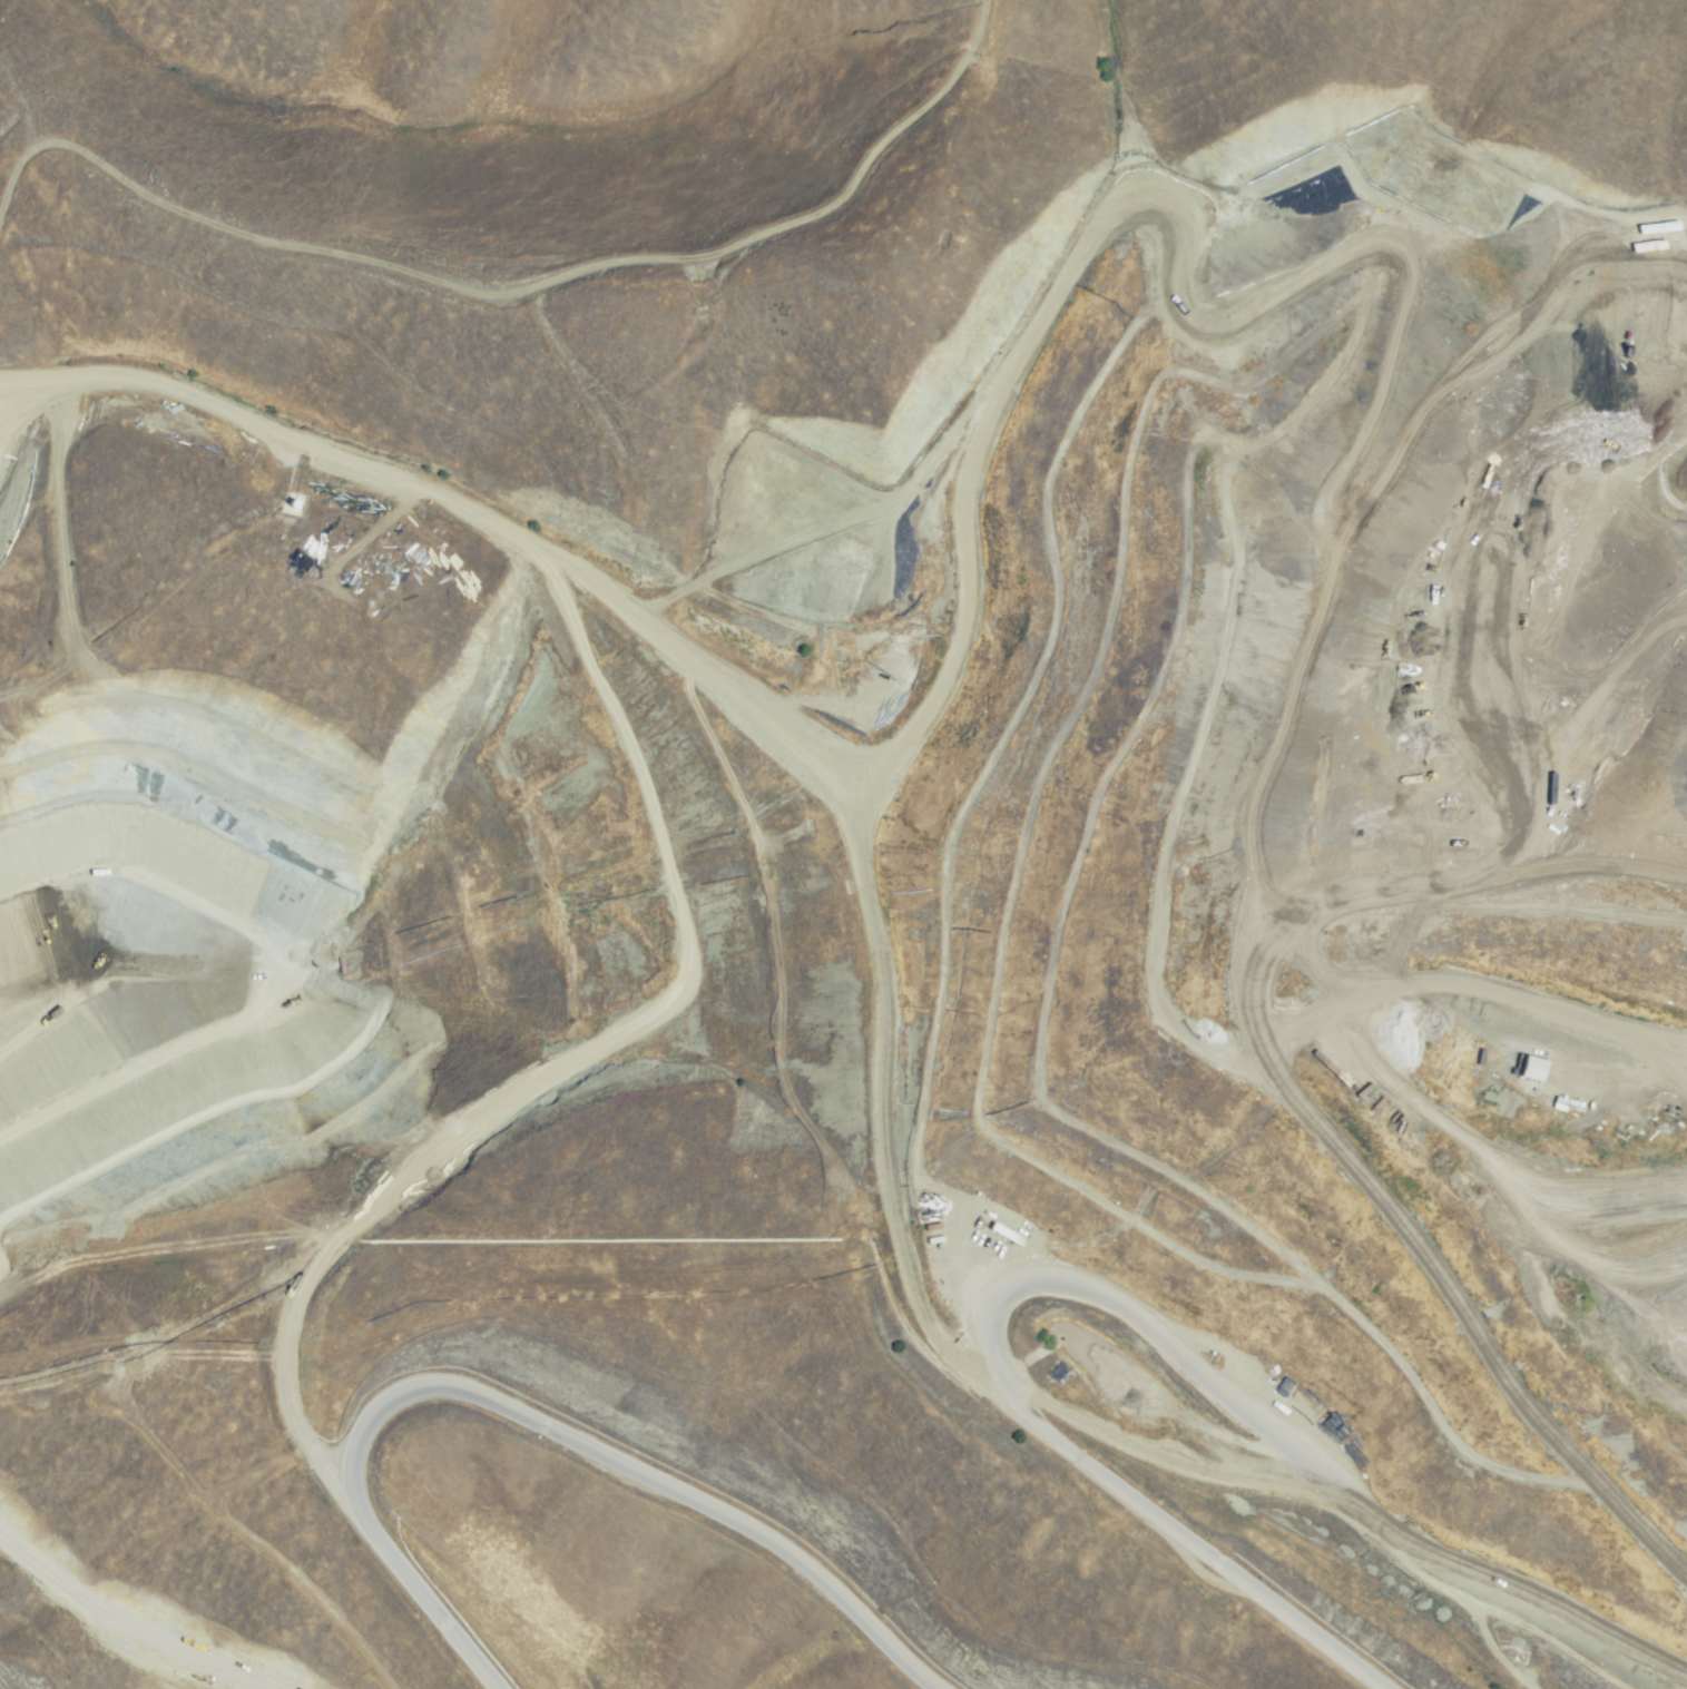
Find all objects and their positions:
road: (21, 387)
road: (22, 410)
road: (1274, 541)
road: (747, 710)
landfill: (1066, 865)
road: (171, 980)
building: (1530, 1067)
road: (1313, 1136)
road: (1108, 1289)
road: (527, 1423)

